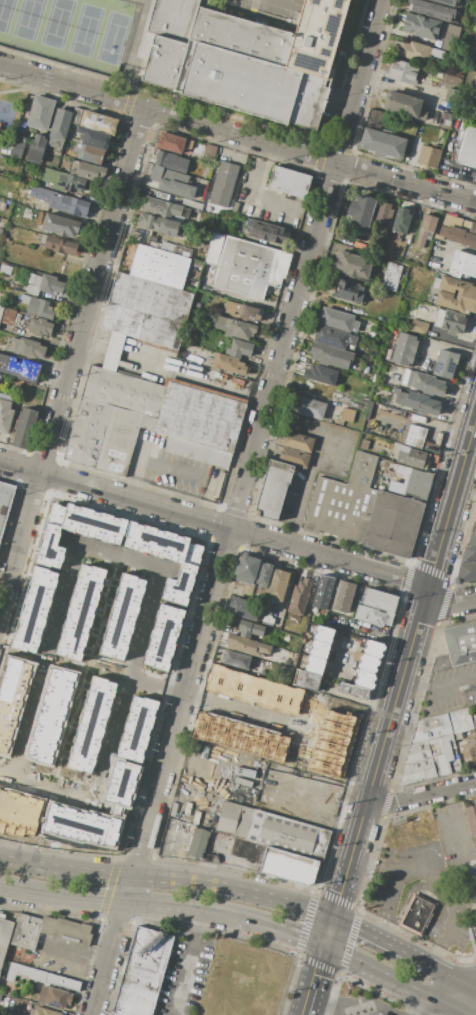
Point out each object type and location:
building: (446, 2)
parking lot: (285, 4)
building: (433, 10)
building: (421, 26)
park: (67, 28)
building: (451, 38)
building: (414, 51)
building: (435, 55)
building: (243, 58)
building: (403, 71)
road: (399, 88)
building: (450, 96)
building: (404, 106)
park: (9, 112)
building: (40, 112)
building: (75, 115)
building: (376, 120)
building: (98, 122)
building: (59, 128)
road: (238, 133)
building: (441, 133)
building: (93, 138)
building: (173, 142)
building: (383, 142)
building: (17, 146)
building: (467, 148)
building: (36, 149)
building: (209, 152)
building: (89, 154)
building: (429, 156)
building: (171, 162)
building: (90, 171)
building: (63, 181)
building: (171, 182)
building: (291, 182)
building: (223, 184)
road: (258, 190)
road: (474, 197)
building: (61, 202)
building: (192, 205)
building: (165, 208)
building: (235, 208)
building: (361, 210)
building: (384, 213)
building: (402, 220)
building: (158, 224)
building: (230, 224)
building: (60, 225)
building: (472, 228)
building: (425, 230)
building: (269, 233)
building: (458, 235)
road: (449, 243)
building: (61, 245)
building: (154, 245)
building: (175, 249)
building: (215, 249)
building: (351, 264)
building: (462, 264)
building: (159, 266)
building: (250, 267)
building: (5, 269)
building: (391, 277)
building: (33, 284)
building: (50, 284)
building: (348, 292)
building: (456, 294)
building: (24, 297)
building: (39, 308)
building: (1, 309)
building: (146, 310)
building: (243, 311)
building: (7, 316)
building: (337, 320)
building: (450, 321)
building: (40, 326)
building: (235, 328)
building: (419, 328)
building: (334, 337)
building: (28, 348)
building: (239, 349)
building: (404, 349)
building: (114, 351)
building: (331, 356)
road: (70, 363)
building: (229, 364)
building: (445, 364)
building: (20, 368)
building: (320, 375)
road: (194, 377)
building: (407, 377)
building: (428, 384)
building: (316, 390)
building: (123, 391)
building: (399, 396)
building: (422, 403)
building: (309, 407)
building: (5, 412)
building: (347, 416)
building: (199, 422)
building: (25, 428)
building: (87, 432)
building: (415, 436)
building: (121, 439)
building: (298, 442)
building: (363, 444)
road: (471, 452)
building: (294, 457)
building: (412, 457)
road: (325, 460)
road: (156, 468)
building: (410, 481)
road: (18, 483)
building: (273, 490)
road: (454, 493)
building: (5, 502)
building: (475, 504)
road: (235, 506)
road: (12, 509)
building: (363, 511)
building: (475, 517)
road: (215, 523)
road: (208, 537)
building: (471, 538)
building: (154, 540)
road: (119, 553)
road: (237, 555)
building: (468, 555)
building: (247, 566)
building: (466, 572)
building: (184, 573)
building: (264, 575)
building: (277, 585)
road: (193, 588)
building: (324, 588)
building: (299, 596)
building: (343, 596)
building: (380, 600)
road: (450, 604)
building: (244, 608)
building: (370, 615)
building: (121, 617)
building: (388, 618)
building: (249, 629)
building: (323, 634)
building: (162, 637)
building: (247, 645)
building: (457, 647)
building: (373, 648)
building: (319, 649)
building: (236, 659)
building: (368, 663)
building: (314, 665)
building: (365, 679)
building: (308, 680)
road: (439, 682)
building: (353, 690)
building: (11, 696)
building: (469, 696)
road: (216, 706)
building: (460, 721)
building: (474, 721)
road: (308, 732)
building: (430, 751)
building: (468, 751)
road: (380, 756)
road: (4, 777)
road: (191, 785)
road: (49, 789)
road: (420, 795)
building: (209, 798)
road: (316, 810)
building: (18, 813)
building: (234, 819)
building: (471, 819)
building: (287, 835)
building: (198, 843)
building: (245, 849)
road: (233, 858)
road: (167, 859)
building: (288, 866)
road: (112, 870)
road: (437, 876)
road: (168, 880)
road: (474, 894)
road: (117, 902)
road: (403, 903)
road: (386, 907)
building: (417, 915)
traffic signals: (332, 921)
road: (280, 927)
road: (197, 928)
building: (49, 931)
building: (4, 935)
road: (374, 941)
traffic signals: (325, 944)
road: (72, 961)
road: (185, 963)
road: (423, 966)
building: (142, 972)
road: (339, 972)
building: (24, 973)
parking lot: (183, 976)
road: (314, 979)
road: (397, 979)
road: (453, 980)
building: (62, 982)
road: (472, 986)
road: (333, 994)
road: (456, 995)
building: (53, 997)
road: (332, 1006)
road: (431, 1008)
road: (377, 1009)
building: (45, 1011)
building: (377, 1013)
building: (380, 1014)

